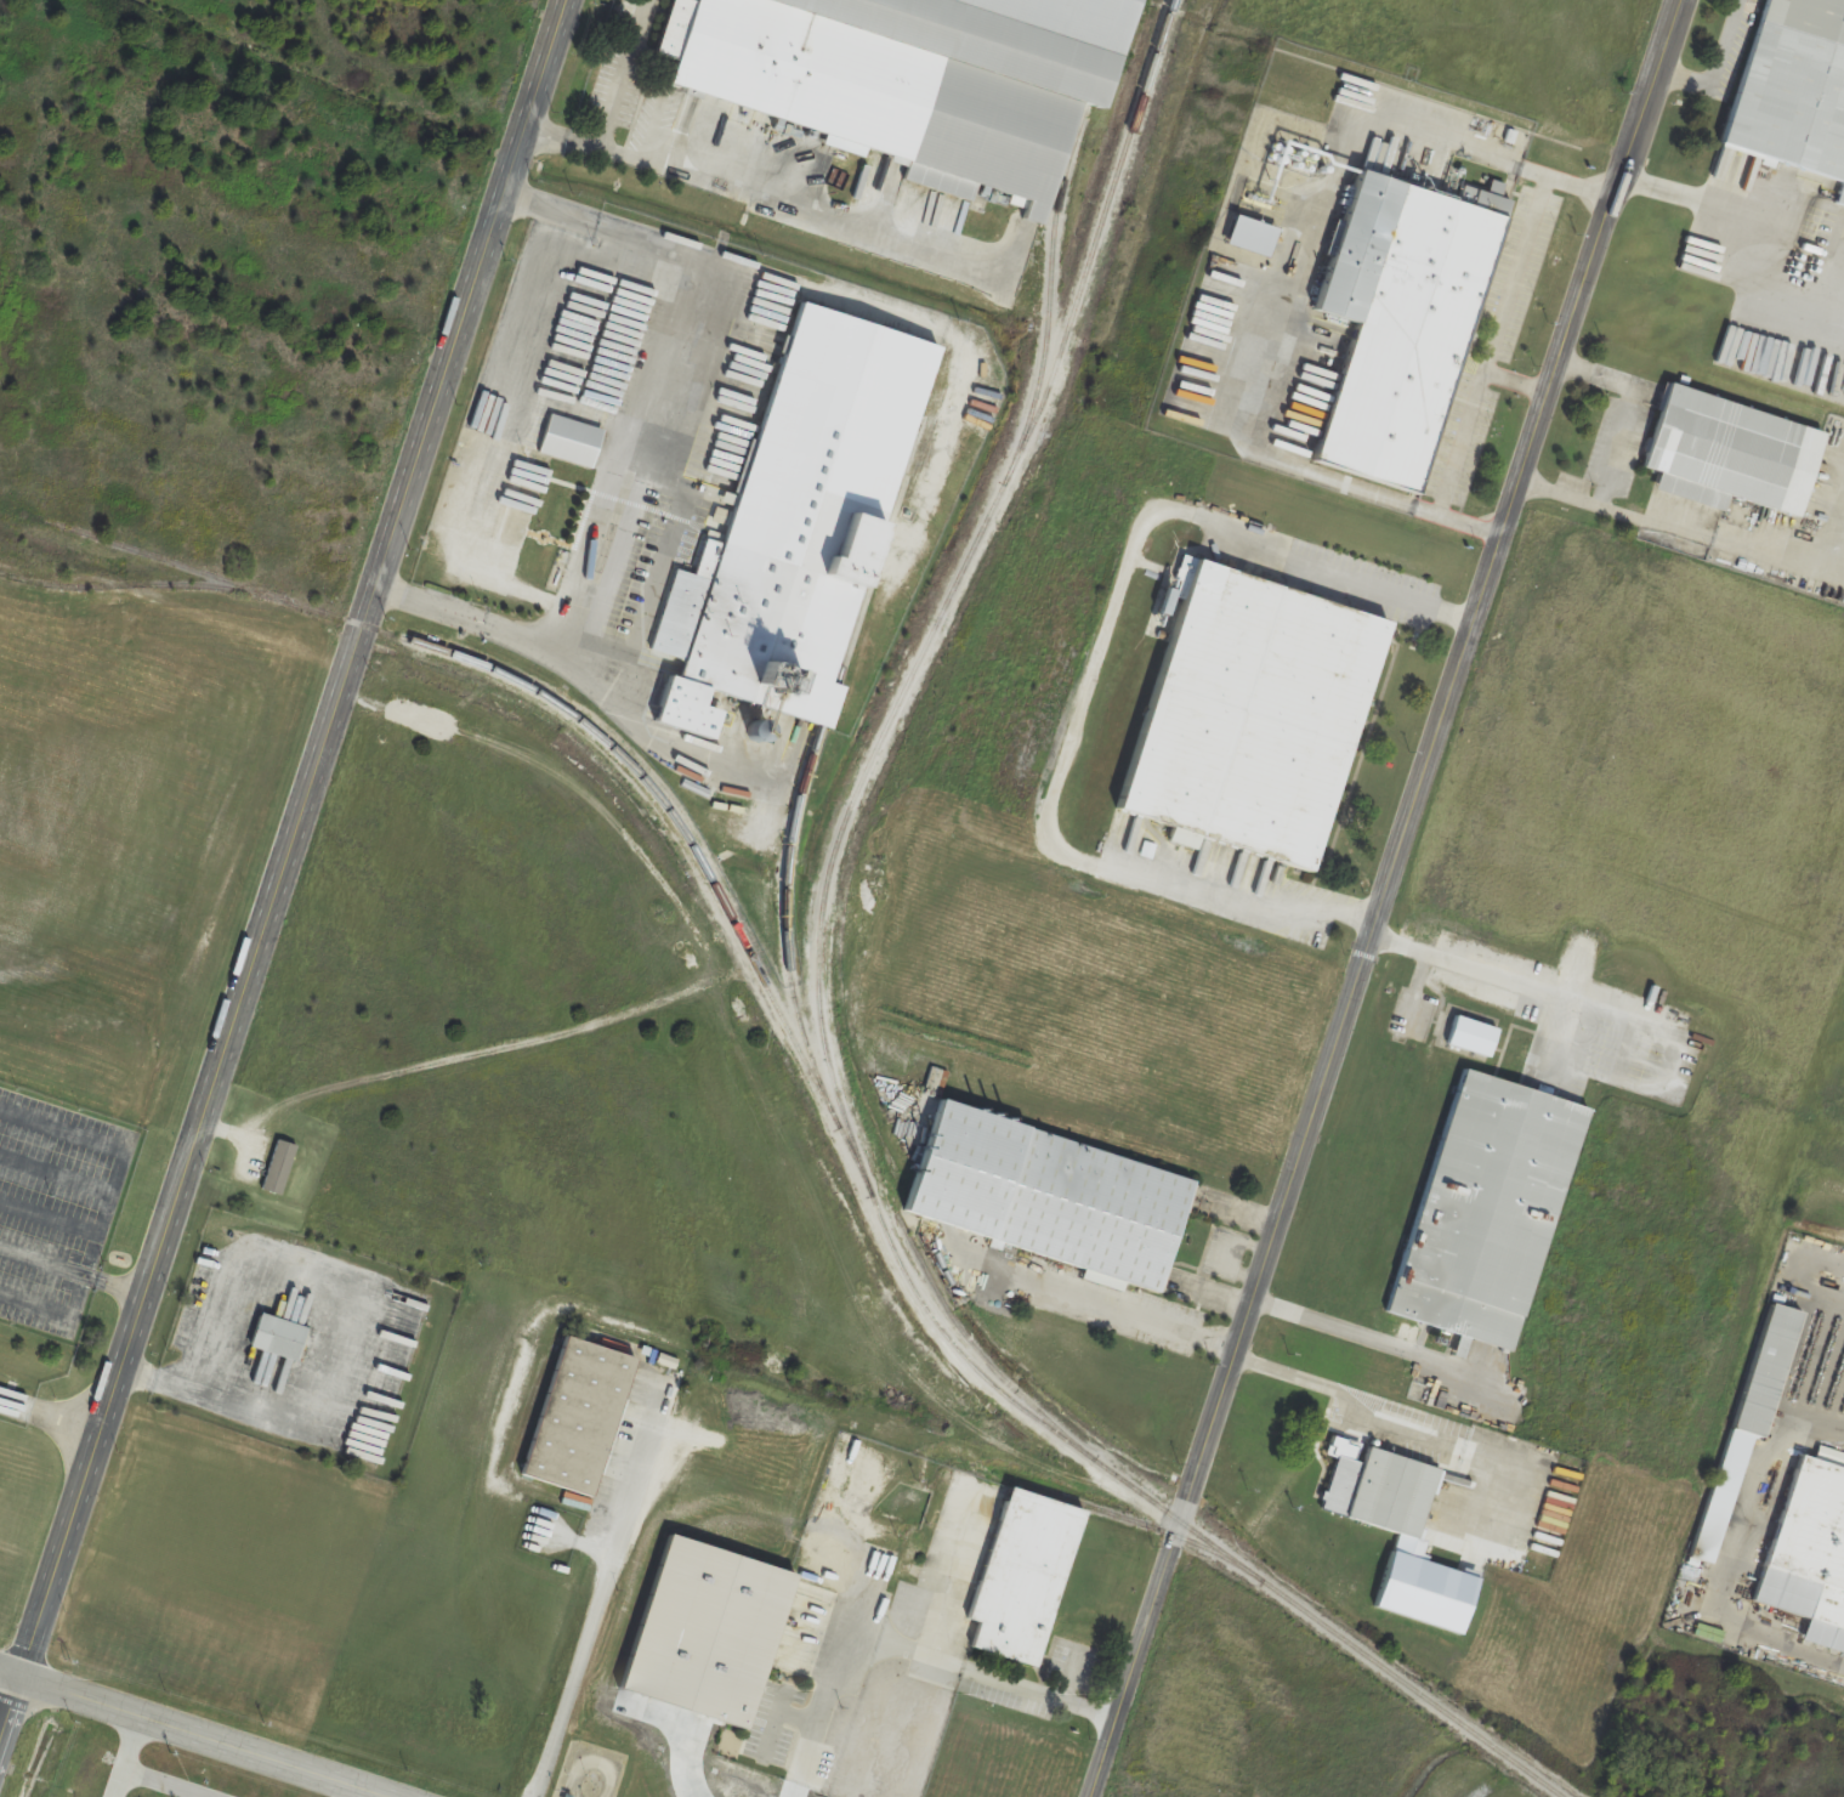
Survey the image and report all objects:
road: (1714, 63)
building: (907, 78)
building: (1791, 90)
road: (608, 107)
railway: (1055, 232)
road: (1738, 236)
building: (1843, 239)
building: (1396, 321)
road: (920, 322)
road: (1491, 350)
road: (1517, 385)
road: (1632, 407)
building: (568, 441)
road: (470, 448)
building: (1727, 453)
road: (634, 461)
road: (1616, 511)
building: (800, 521)
road: (1795, 562)
road: (660, 571)
road: (584, 670)
road: (1097, 674)
building: (1247, 715)
building: (690, 761)
railway: (799, 803)
railway: (668, 805)
road: (282, 869)
road: (1389, 898)
road: (1611, 1013)
railway: (825, 1031)
building: (279, 1168)
building: (1043, 1195)
building: (1483, 1209)
road: (348, 1333)
building: (277, 1337)
road: (1377, 1340)
railway: (988, 1357)
road: (1412, 1413)
building: (574, 1416)
building: (1747, 1418)
building: (1377, 1491)
railway: (1147, 1524)
building: (1806, 1547)
road: (1735, 1554)
road: (952, 1572)
building: (1020, 1576)
road: (601, 1591)
building: (703, 1632)
road: (919, 1653)
road: (192, 1733)
road: (126, 1756)
road: (163, 1784)
road: (363, 1793)

